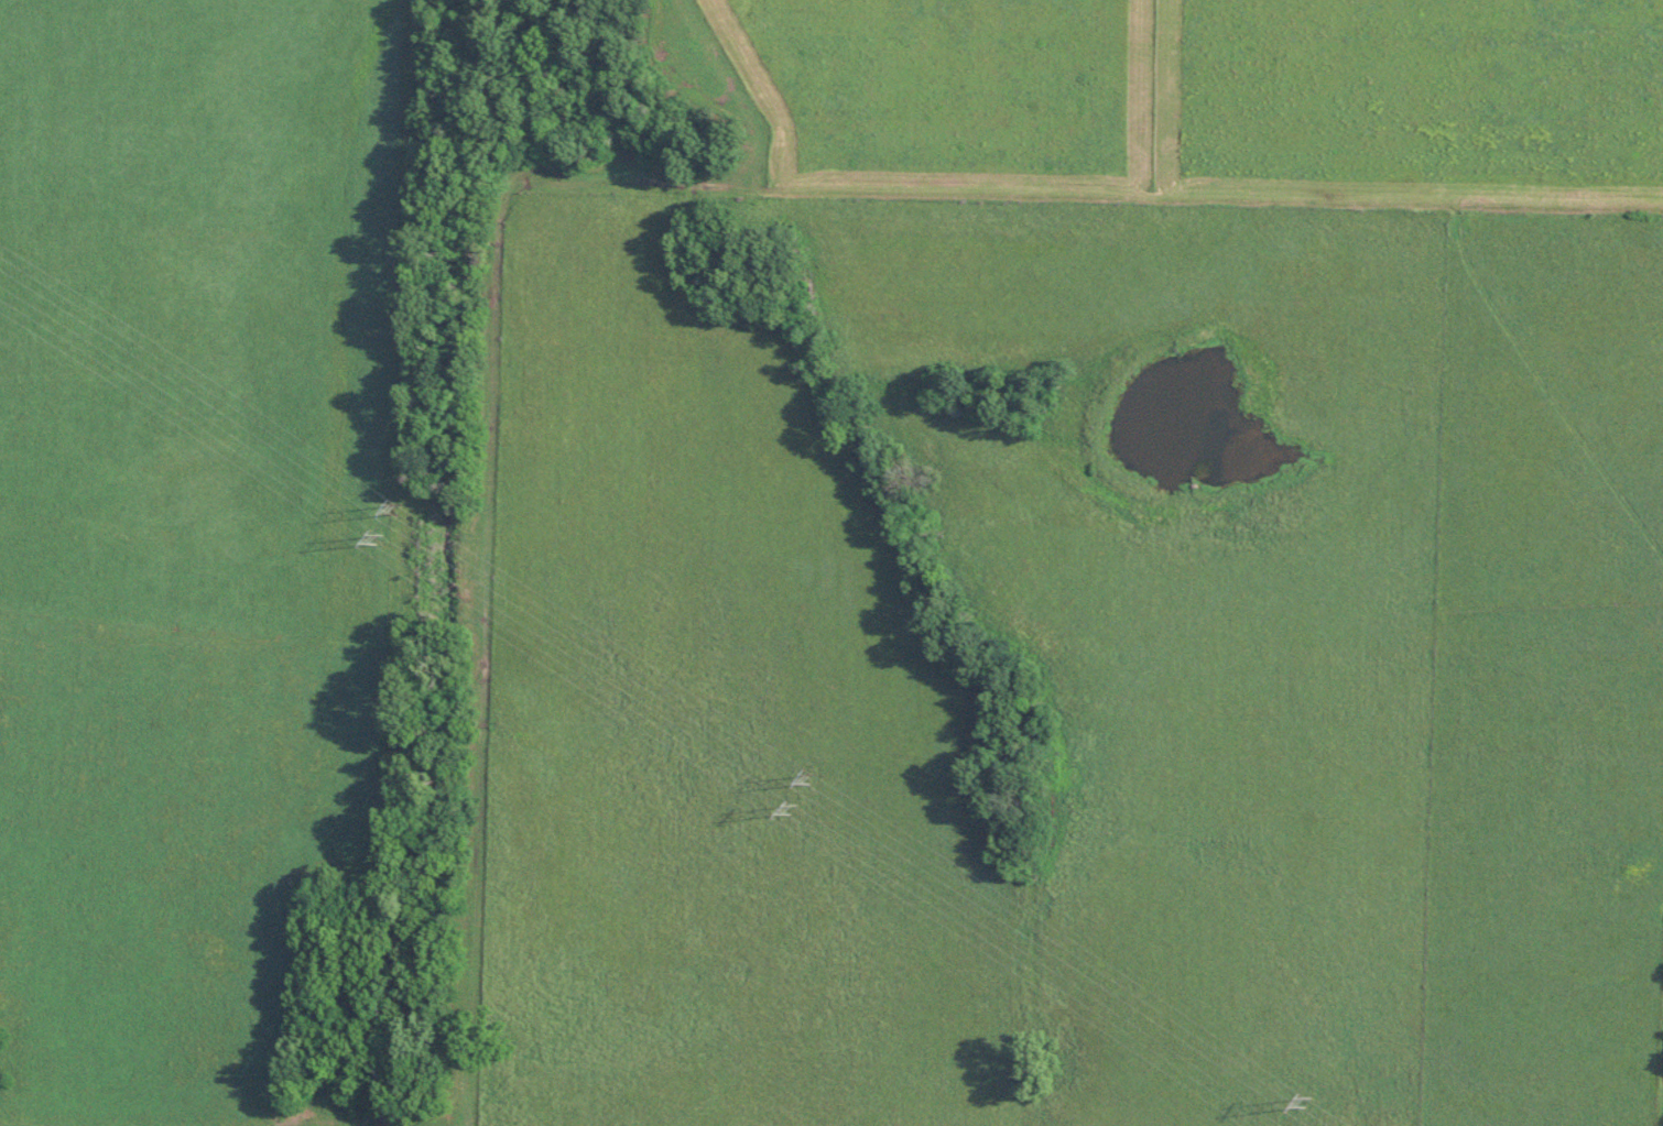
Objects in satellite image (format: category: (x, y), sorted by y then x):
power tower: (392, 513)
power tower: (370, 542)
power tower: (805, 778)
power tower: (784, 809)
power tower: (1300, 1102)

